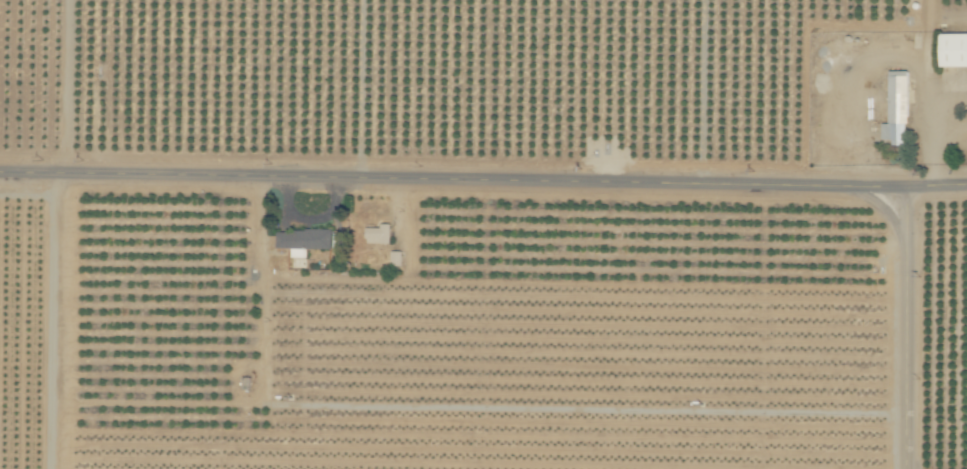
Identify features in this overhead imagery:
building: (951, 49)
building: (893, 107)
road: (483, 202)
building: (377, 234)
crop: (483, 234)
building: (302, 240)
building: (394, 258)
road: (924, 332)

